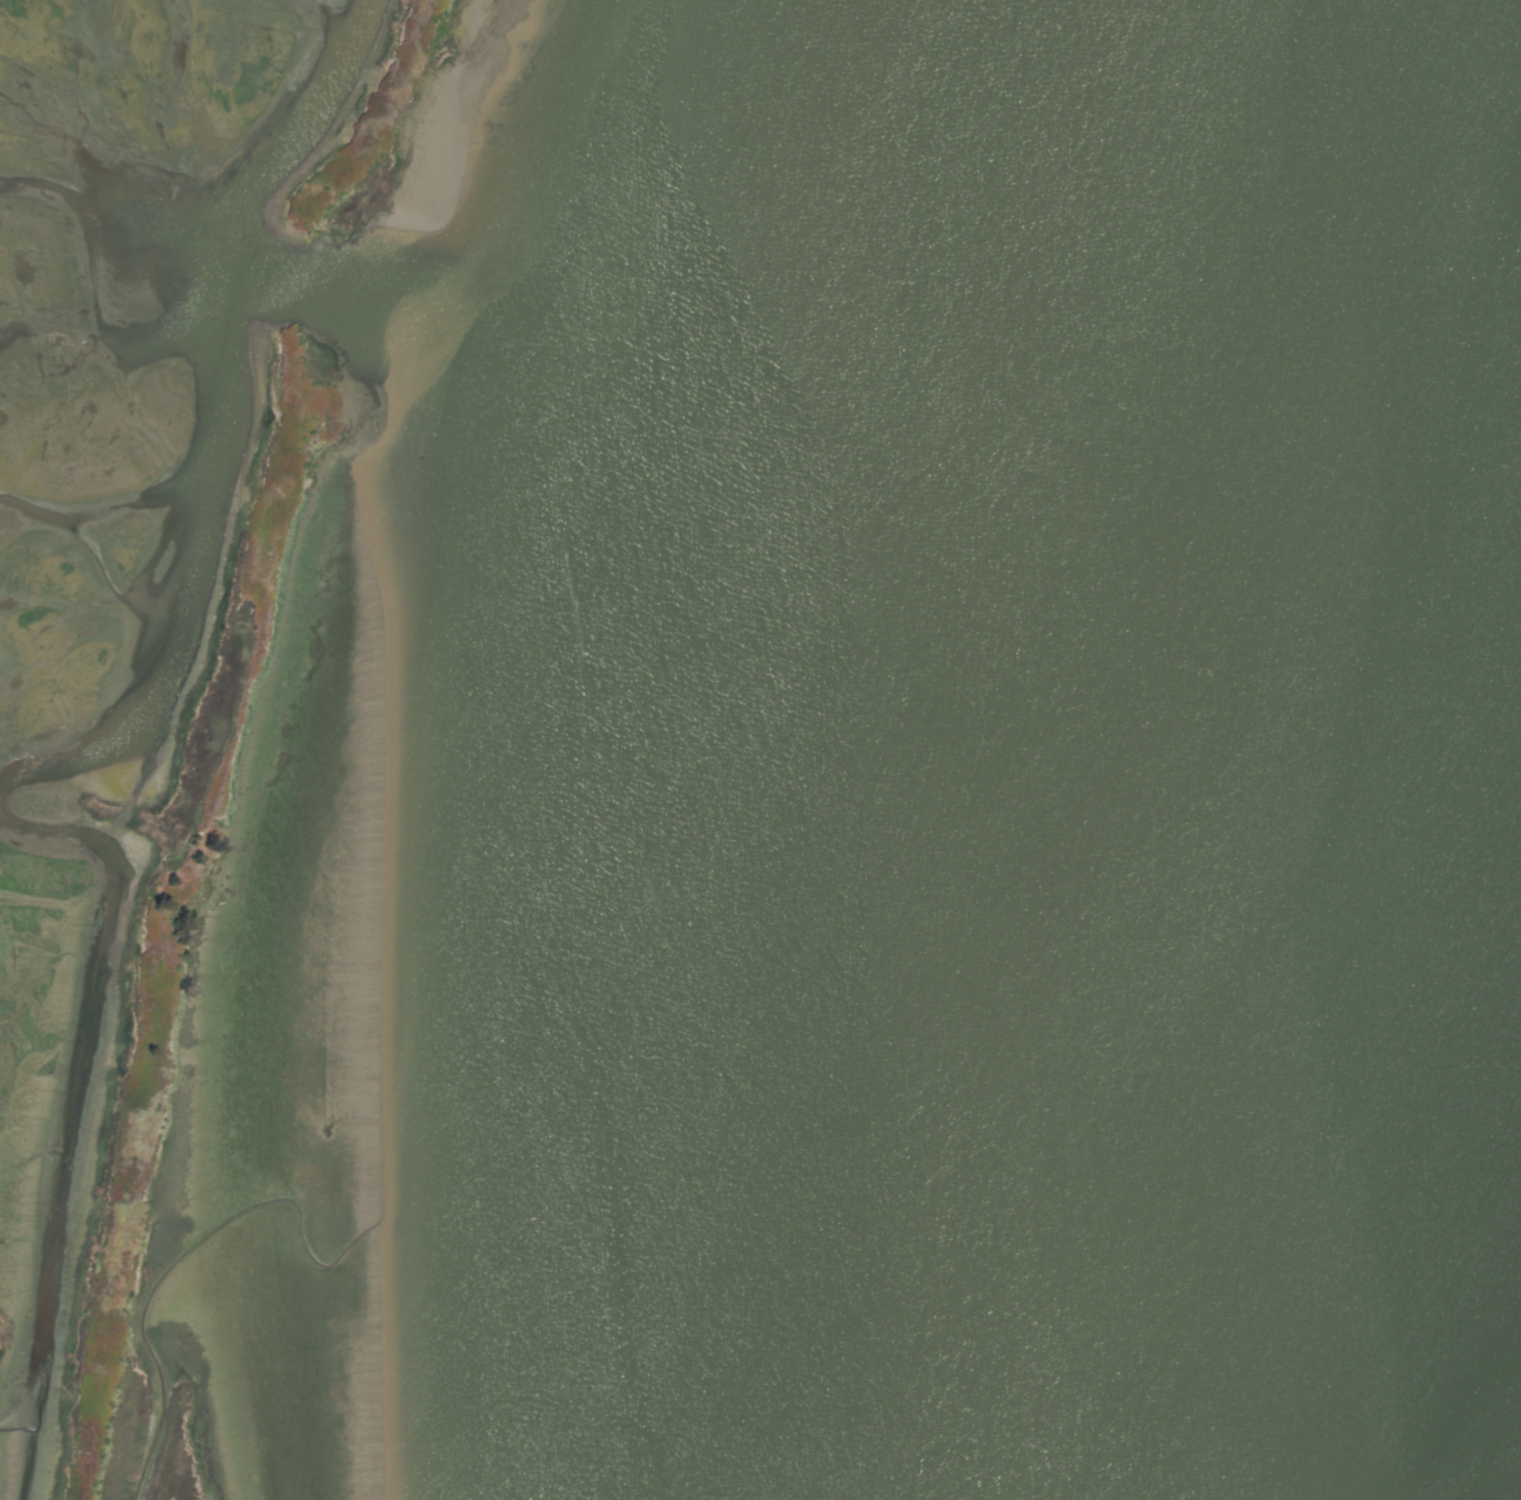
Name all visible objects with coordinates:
river: (999, 749)

